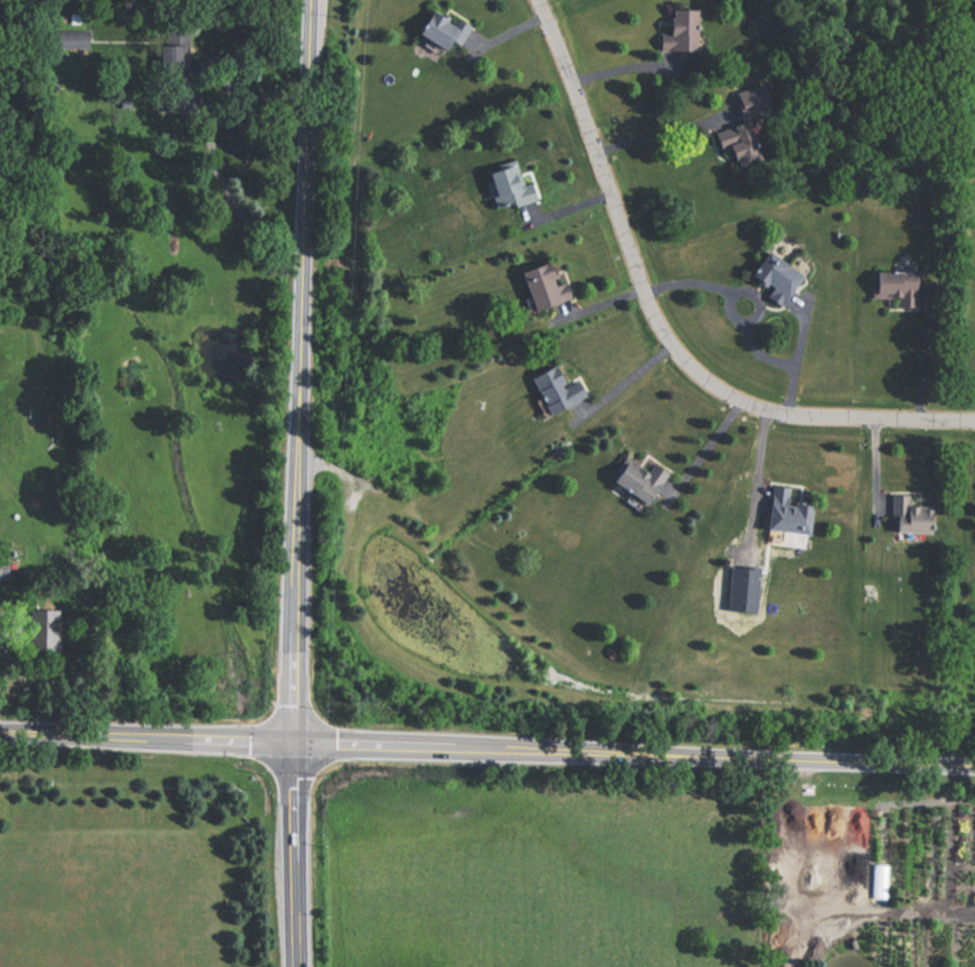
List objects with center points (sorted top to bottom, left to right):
building: (439, 29)
building: (677, 29)
road: (626, 66)
road: (662, 128)
building: (736, 143)
building: (504, 184)
road: (227, 194)
building: (770, 276)
building: (540, 285)
building: (892, 287)
road: (746, 319)
road: (663, 325)
road: (923, 363)
road: (627, 377)
building: (554, 389)
road: (706, 447)
building: (636, 477)
road: (299, 483)
building: (784, 510)
building: (907, 516)
road: (149, 737)
traffic signals: (298, 743)
road: (636, 753)
building: (878, 881)
road: (868, 912)

